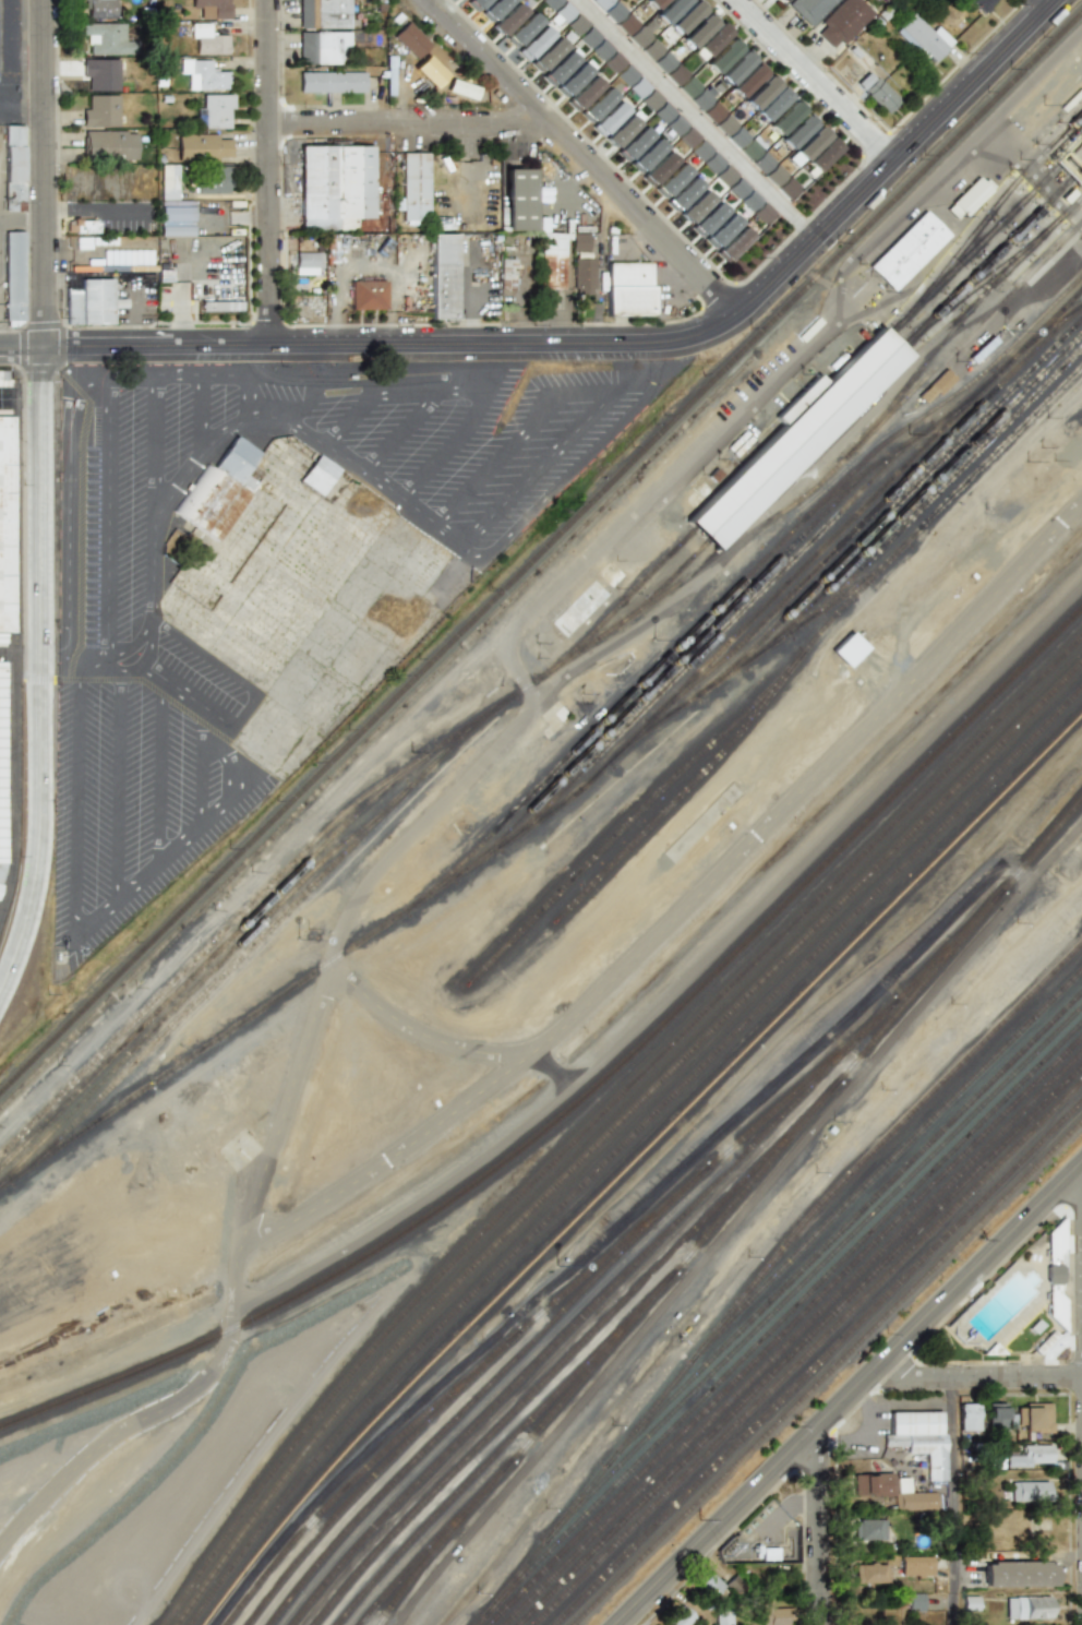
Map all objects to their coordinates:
building: (784, 0)
road: (1049, 2)
building: (476, 3)
building: (550, 3)
building: (601, 3)
building: (652, 3)
building: (982, 4)
building: (99, 8)
building: (213, 8)
building: (494, 9)
building: (810, 9)
building: (669, 10)
building: (563, 12)
building: (613, 12)
building: (323, 13)
building: (686, 16)
building: (508, 19)
building: (843, 22)
building: (626, 24)
building: (576, 25)
building: (522, 29)
building: (698, 29)
building: (106, 37)
building: (924, 38)
building: (207, 40)
building: (411, 40)
building: (710, 43)
building: (533, 44)
building: (594, 44)
building: (645, 44)
building: (323, 47)
building: (548, 55)
building: (723, 55)
building: (429, 58)
building: (613, 62)
building: (663, 62)
building: (561, 67)
building: (736, 67)
building: (104, 74)
building: (206, 74)
building: (675, 74)
building: (625, 75)
building: (575, 77)
building: (747, 80)
road: (814, 80)
building: (332, 82)
building: (638, 87)
building: (688, 87)
building: (761, 92)
building: (877, 93)
building: (584, 94)
building: (700, 99)
building: (773, 104)
building: (597, 105)
road: (22, 108)
building: (100, 110)
building: (217, 111)
building: (662, 112)
building: (713, 112)
building: (786, 117)
building: (609, 119)
road: (698, 119)
road: (410, 122)
building: (725, 124)
building: (797, 130)
building: (687, 138)
building: (737, 138)
building: (634, 144)
building: (108, 145)
building: (203, 146)
building: (807, 146)
building: (750, 150)
building: (700, 151)
road: (582, 155)
building: (822, 155)
building: (647, 156)
building: (712, 163)
building: (764, 163)
building: (17, 168)
building: (658, 169)
road: (269, 172)
road: (43, 174)
building: (776, 175)
building: (725, 176)
building: (213, 180)
building: (167, 181)
building: (672, 181)
building: (336, 182)
railway: (943, 184)
railway: (952, 186)
building: (416, 187)
building: (786, 188)
building: (737, 189)
railway: (917, 193)
building: (683, 194)
building: (969, 198)
building: (519, 200)
building: (750, 201)
street lamp: (26, 204)
building: (696, 207)
building: (762, 213)
building: (173, 214)
road: (95, 215)
building: (708, 219)
building: (327, 224)
building: (82, 226)
building: (721, 231)
railway: (993, 232)
building: (579, 241)
building: (733, 244)
building: (909, 251)
building: (550, 260)
building: (304, 262)
building: (506, 273)
building: (584, 273)
building: (17, 275)
building: (442, 276)
railway: (979, 284)
road: (0, 285)
building: (629, 290)
building: (365, 294)
building: (99, 300)
building: (76, 304)
building: (217, 307)
railway: (974, 307)
railway: (1048, 330)
road: (616, 344)
road: (21, 349)
railway: (946, 359)
railway: (988, 369)
road: (342, 370)
road: (423, 373)
road: (462, 378)
building: (4, 379)
road: (311, 381)
building: (936, 385)
road: (416, 392)
railway: (858, 392)
road: (616, 394)
railway: (826, 401)
road: (199, 414)
road: (347, 419)
road: (399, 431)
building: (800, 437)
road: (215, 440)
road: (450, 442)
road: (152, 451)
road: (65, 474)
building: (318, 475)
railway: (851, 476)
railway: (950, 482)
building: (219, 489)
railway: (922, 495)
railway: (898, 503)
building: (1002, 504)
railway: (876, 509)
road: (106, 518)
building: (4, 526)
road: (593, 548)
railway: (540, 553)
railway: (785, 585)
railway: (738, 586)
building: (2, 638)
railway: (716, 640)
building: (847, 649)
road: (21, 650)
railway: (671, 668)
parking lot: (147, 672)
road: (41, 676)
road: (158, 680)
railway: (375, 733)
building: (2, 762)
road: (202, 769)
railway: (683, 770)
road: (160, 773)
road: (117, 786)
railway: (374, 790)
railway: (677, 800)
railway: (562, 804)
road: (159, 864)
building: (1, 869)
road: (683, 911)
railway: (255, 943)
railway: (218, 966)
railway: (199, 972)
street lamp: (49, 995)
road: (424, 1036)
railway: (593, 1091)
railway: (603, 1114)
railway: (614, 1133)
road: (277, 1136)
railway: (623, 1145)
railway: (634, 1162)
railway: (887, 1163)
road: (1078, 1173)
railway: (728, 1210)
railway: (850, 1222)
railway: (612, 1252)
building: (1054, 1253)
railway: (819, 1267)
railway: (765, 1270)
railway: (590, 1310)
railway: (786, 1315)
railway: (785, 1330)
railway: (793, 1338)
railway: (802, 1346)
railway: (809, 1353)
railway: (563, 1362)
railway: (818, 1363)
railway: (829, 1374)
road: (978, 1377)
railway: (485, 1390)
road: (849, 1393)
road: (899, 1407)
building: (970, 1415)
building: (997, 1417)
building: (1033, 1417)
building: (919, 1437)
road: (864, 1444)
railway: (503, 1448)
building: (1031, 1456)
railway: (375, 1474)
building: (871, 1484)
building: (1029, 1490)
building: (916, 1501)
road: (953, 1502)
road: (788, 1510)
road: (820, 1529)
building: (869, 1529)
railway: (434, 1541)
power substation: (766, 1541)
power tower: (732, 1551)
building: (746, 1553)
building: (915, 1566)
building: (870, 1573)
building: (1019, 1573)
building: (710, 1585)
building: (914, 1601)
building: (971, 1602)
building: (1029, 1608)
building: (774, 1614)
building: (680, 1616)
building: (722, 1618)

